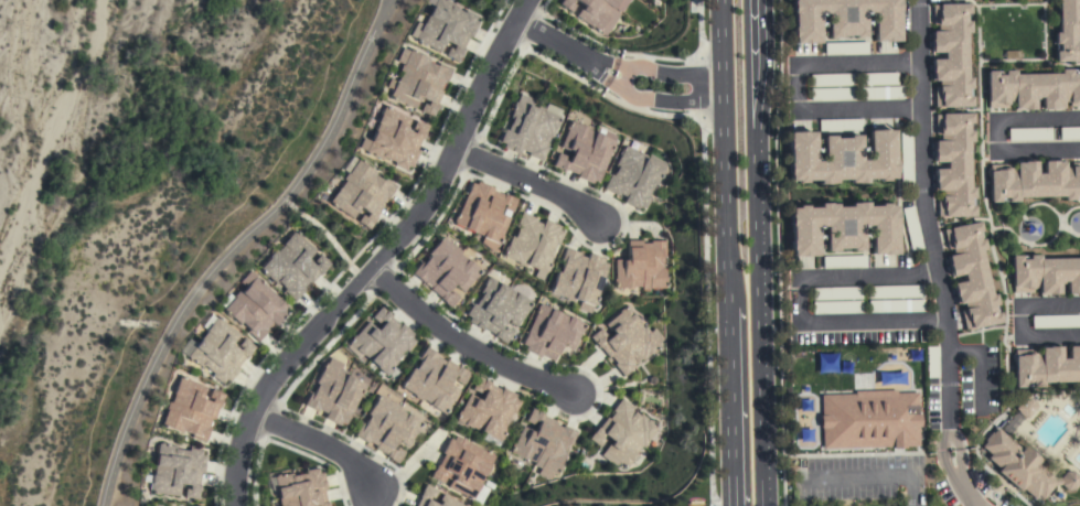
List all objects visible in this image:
building: (567, 4)
road: (384, 9)
road: (388, 9)
building: (600, 13)
building: (844, 19)
building: (446, 28)
building: (1067, 31)
road: (699, 33)
road: (546, 39)
road: (721, 39)
building: (845, 49)
building: (951, 55)
road: (597, 61)
road: (594, 69)
road: (669, 76)
building: (878, 78)
road: (624, 79)
building: (832, 79)
building: (417, 80)
road: (800, 87)
road: (724, 89)
building: (1033, 89)
road: (701, 90)
building: (832, 93)
building: (881, 93)
road: (664, 100)
building: (840, 125)
building: (528, 128)
building: (1029, 133)
building: (1069, 133)
road: (999, 136)
building: (393, 139)
building: (585, 151)
building: (905, 157)
building: (841, 158)
building: (953, 164)
building: (635, 176)
building: (1034, 181)
road: (527, 183)
building: (361, 193)
road: (726, 203)
building: (484, 213)
building: (911, 227)
road: (928, 227)
building: (842, 228)
road: (329, 235)
building: (532, 244)
road: (758, 252)
road: (229, 255)
road: (382, 258)
building: (843, 261)
building: (293, 265)
building: (642, 266)
building: (446, 270)
building: (1045, 274)
building: (971, 276)
building: (579, 278)
building: (895, 291)
building: (836, 293)
road: (804, 302)
building: (895, 305)
building: (255, 306)
building: (836, 308)
building: (498, 309)
road: (705, 311)
road: (1024, 317)
building: (1056, 321)
building: (550, 332)
building: (627, 340)
building: (382, 341)
road: (467, 343)
building: (220, 351)
building: (931, 362)
building: (1046, 366)
building: (434, 380)
building: (334, 392)
road: (729, 405)
building: (1026, 407)
building: (191, 409)
building: (488, 410)
building: (869, 419)
building: (388, 428)
building: (623, 434)
building: (543, 443)
road: (317, 448)
building: (1022, 463)
building: (462, 466)
building: (177, 470)
road: (872, 478)
road: (969, 480)
building: (300, 488)
building: (427, 495)

